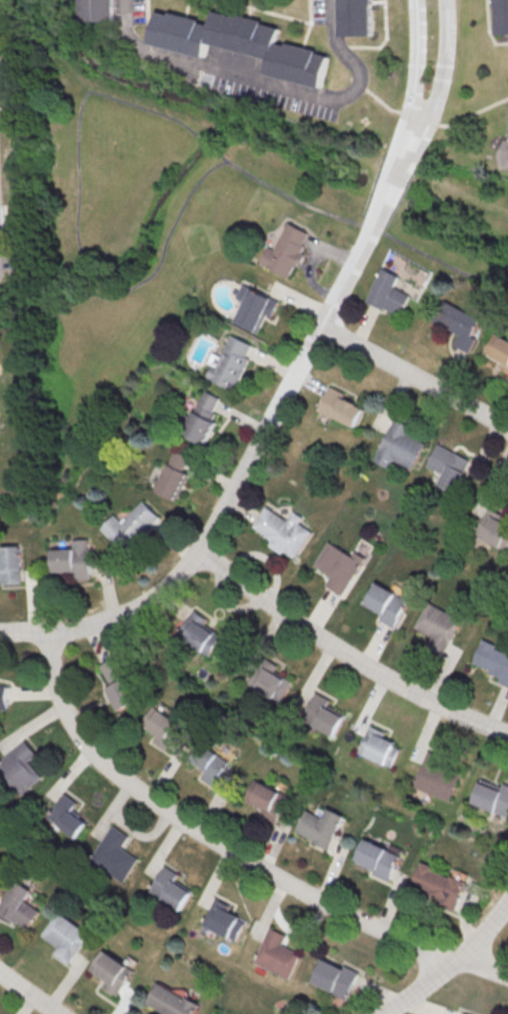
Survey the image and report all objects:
building: (97, 11)
building: (501, 17)
building: (355, 19)
building: (239, 45)
road: (414, 66)
road: (444, 71)
road: (271, 83)
road: (77, 121)
road: (206, 143)
road: (402, 157)
road: (505, 158)
road: (387, 192)
park: (150, 222)
park: (459, 222)
road: (359, 224)
park: (201, 238)
road: (165, 244)
building: (286, 250)
road: (85, 280)
building: (389, 293)
building: (255, 307)
building: (459, 323)
building: (498, 351)
building: (230, 362)
road: (415, 377)
building: (340, 407)
building: (203, 417)
building: (397, 446)
building: (446, 466)
building: (175, 474)
road: (241, 477)
building: (131, 526)
building: (493, 526)
building: (163, 531)
building: (281, 533)
building: (72, 562)
building: (9, 567)
building: (336, 568)
building: (386, 605)
building: (438, 628)
building: (198, 632)
road: (346, 653)
building: (493, 659)
building: (270, 680)
building: (118, 683)
building: (2, 696)
building: (325, 714)
building: (161, 727)
building: (379, 747)
building: (209, 762)
building: (18, 767)
building: (436, 780)
building: (492, 796)
building: (266, 799)
building: (65, 816)
building: (321, 826)
road: (231, 850)
building: (109, 855)
building: (378, 859)
building: (440, 885)
building: (167, 889)
building: (17, 905)
building: (220, 921)
building: (64, 937)
building: (275, 954)
road: (449, 963)
building: (111, 971)
building: (334, 977)
road: (28, 994)
building: (172, 1001)
building: (216, 1012)

